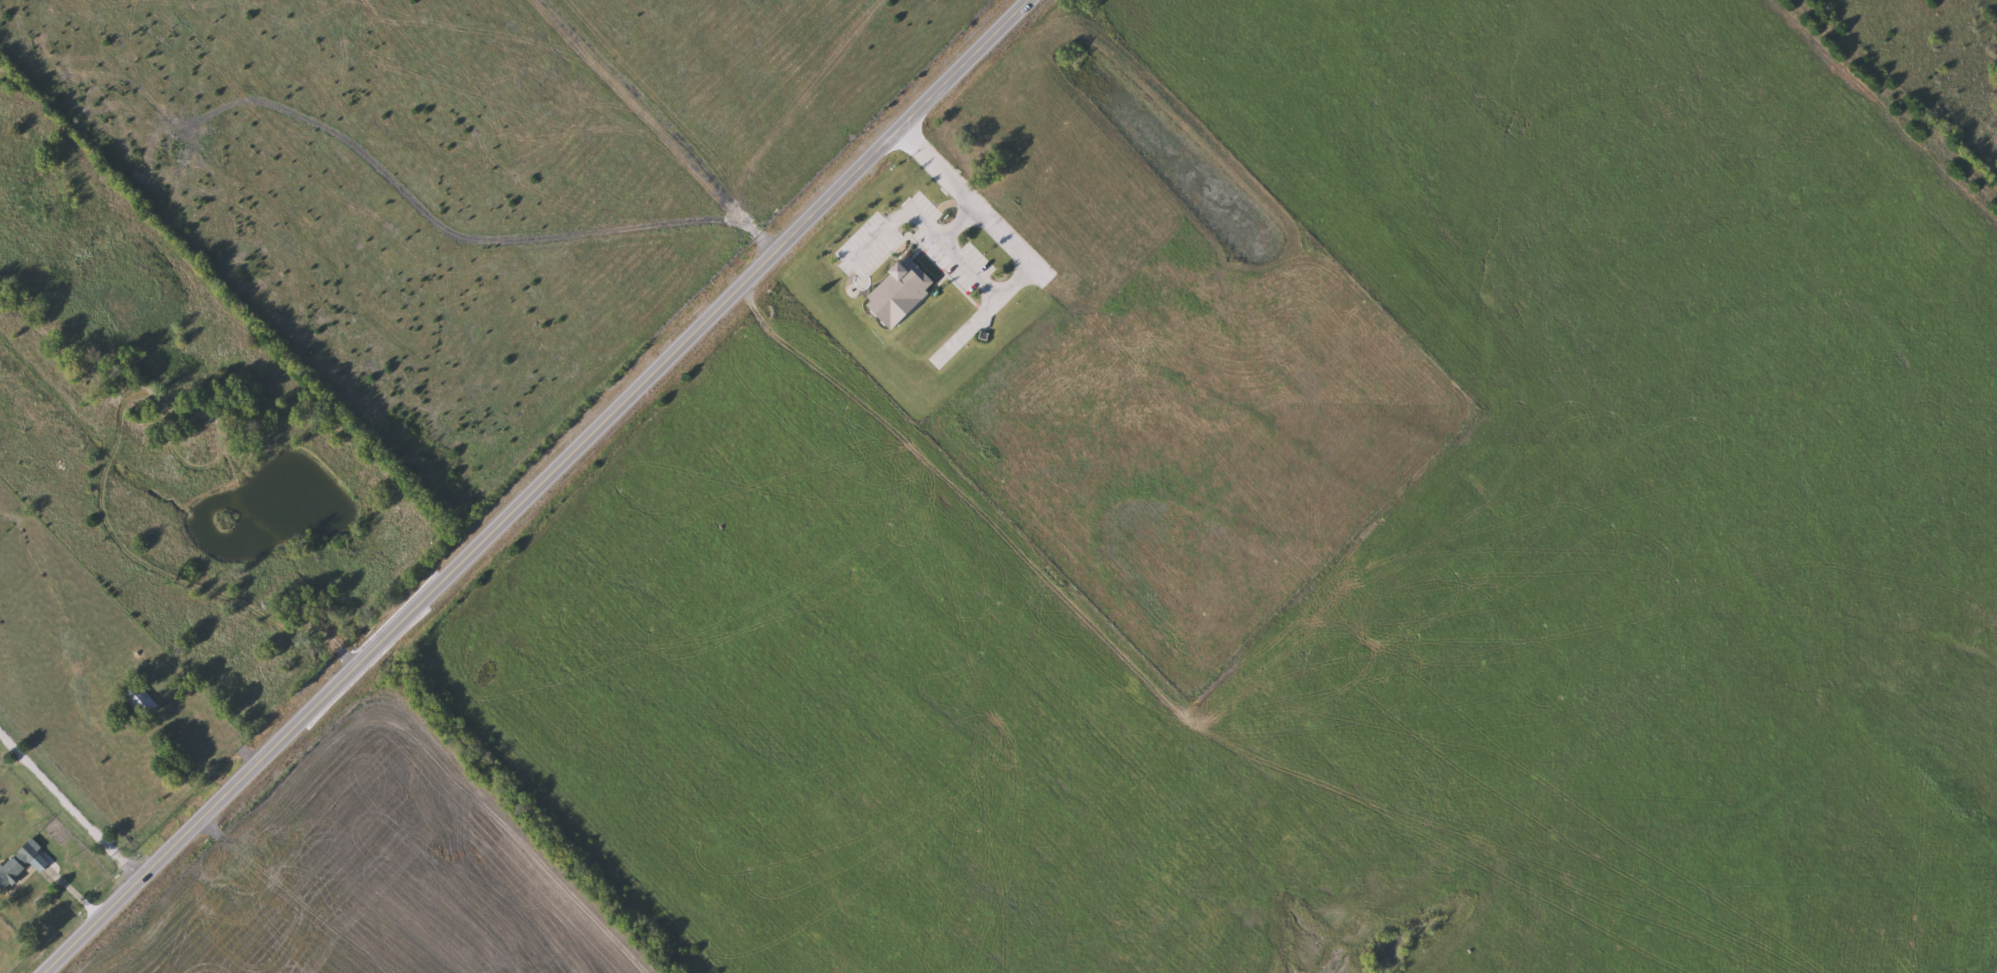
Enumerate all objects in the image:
road: (893, 223)
road: (1007, 247)
road: (950, 254)
road: (540, 484)
building: (142, 702)
road: (71, 810)
building: (17, 865)

